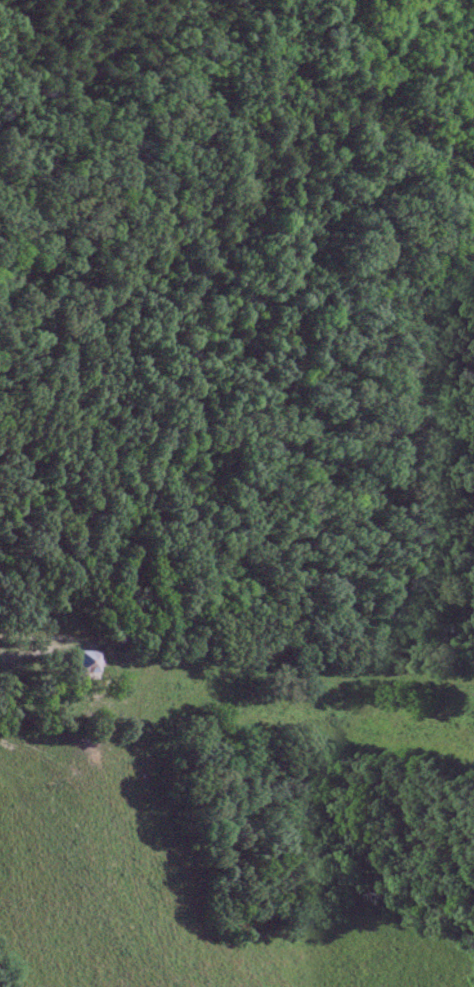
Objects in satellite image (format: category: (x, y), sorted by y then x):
road: (38, 629)

